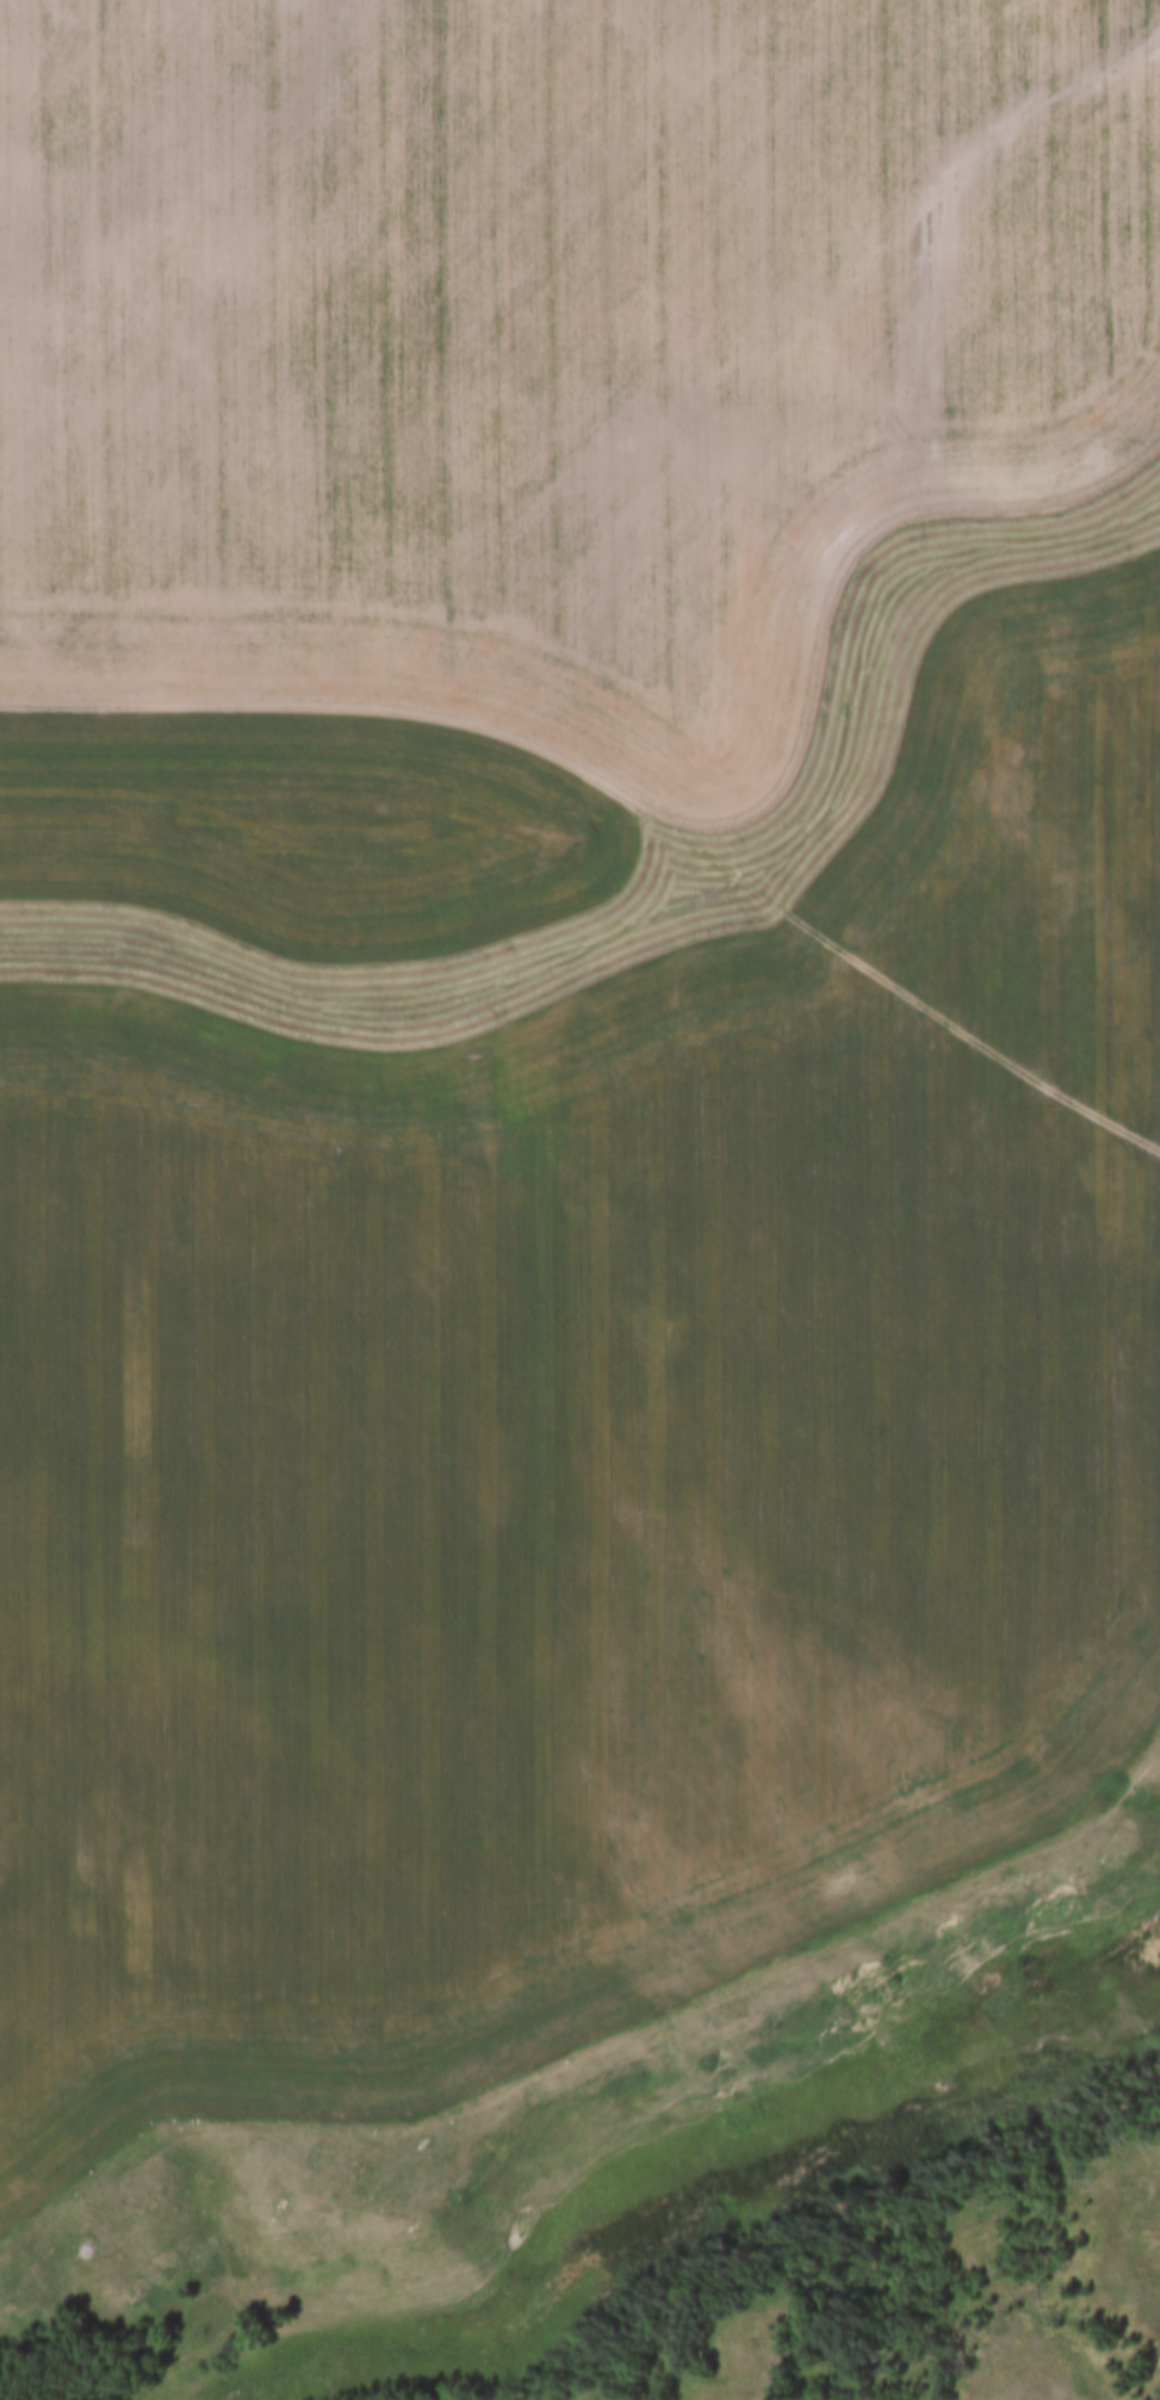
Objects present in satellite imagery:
road: (622, 796)

